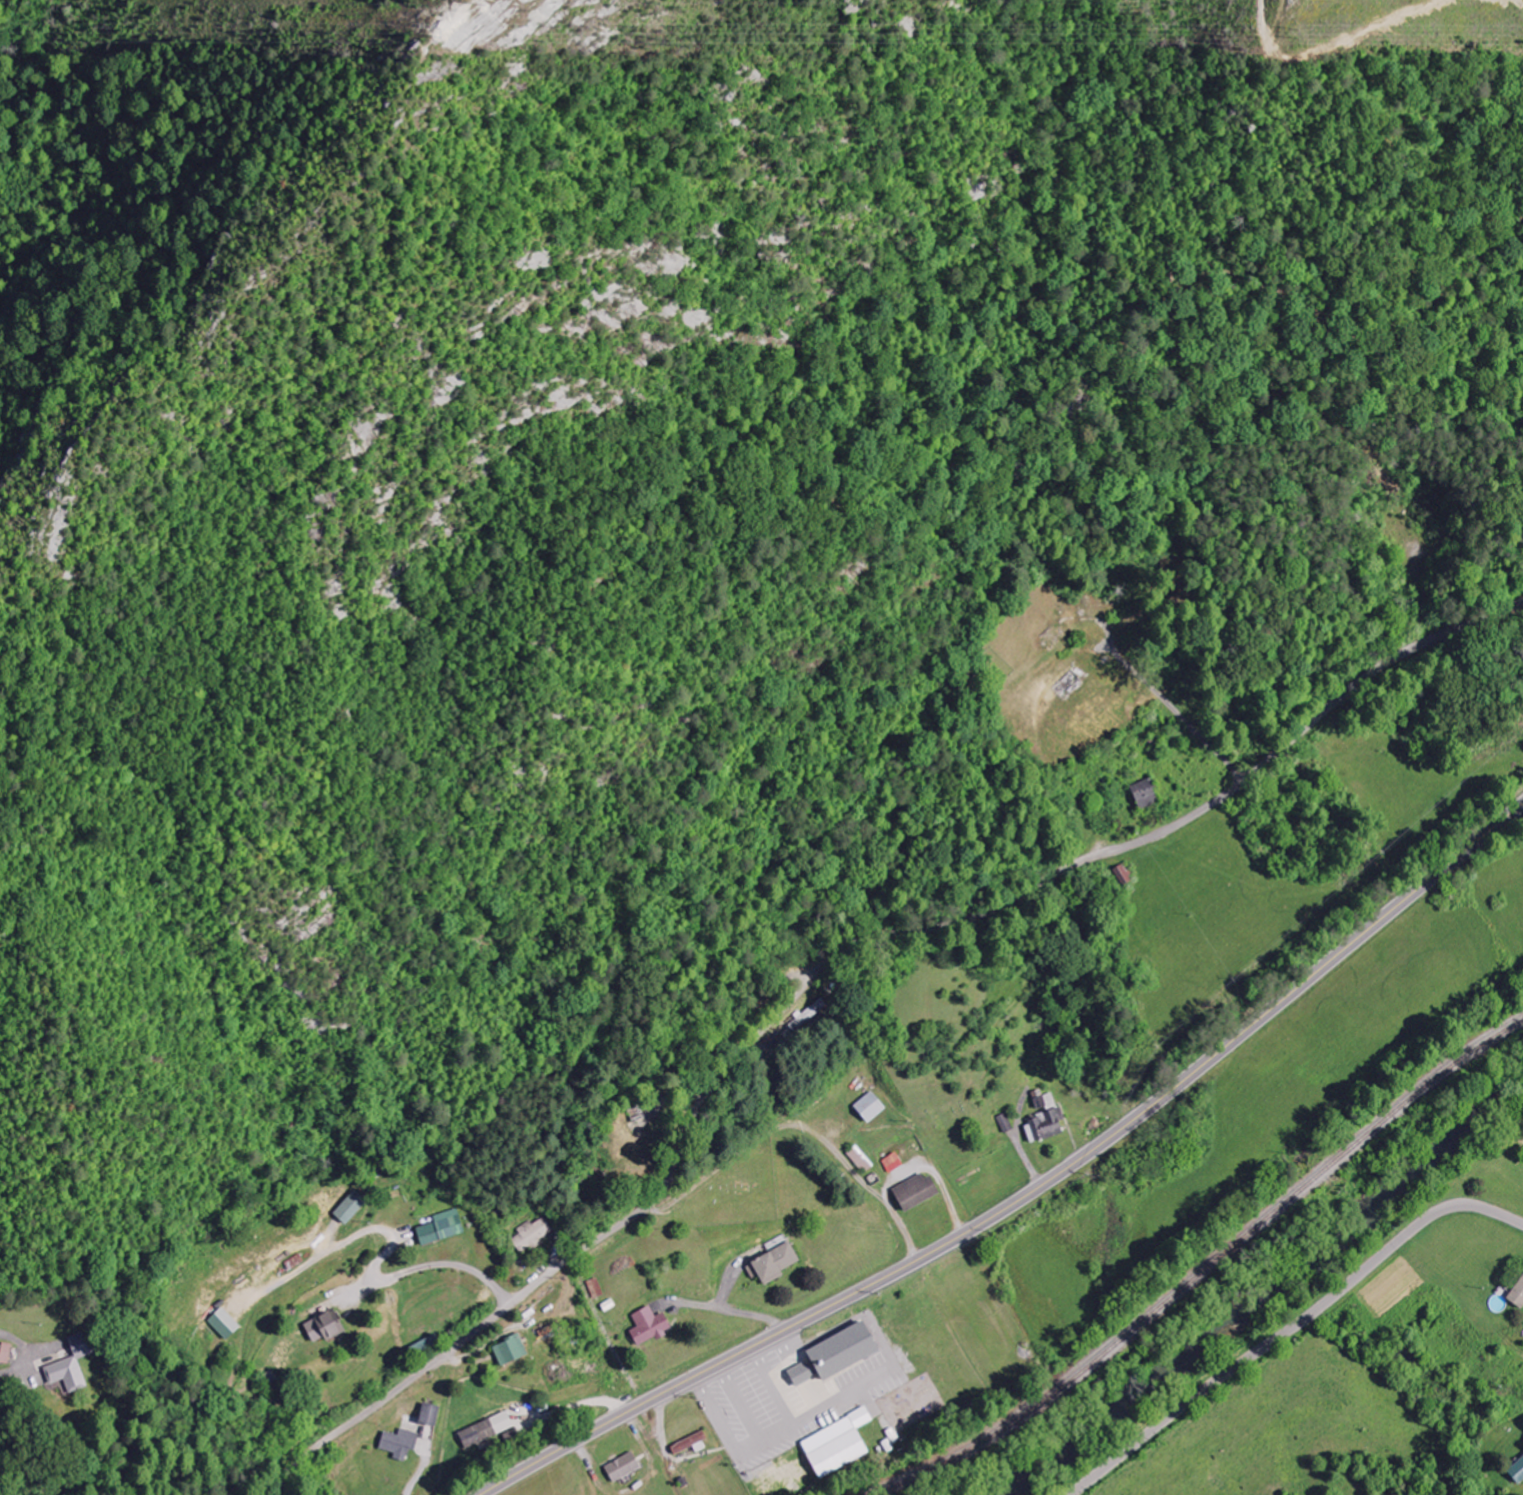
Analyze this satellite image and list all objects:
road: (1178, 715)
building: (1141, 796)
road: (828, 957)
building: (808, 1014)
road: (737, 1021)
building: (1048, 1126)
building: (921, 1191)
road: (1031, 1192)
building: (354, 1207)
building: (445, 1227)
building: (532, 1234)
building: (778, 1263)
railway: (1203, 1277)
building: (1516, 1294)
building: (227, 1324)
building: (329, 1326)
building: (653, 1326)
road: (1291, 1328)
building: (513, 1351)
building: (8, 1353)
building: (844, 1354)
building: (73, 1367)
road: (1, 1373)
building: (434, 1415)
building: (490, 1430)
building: (403, 1444)
building: (693, 1444)
building: (842, 1444)
building: (626, 1467)
building: (1516, 1471)

